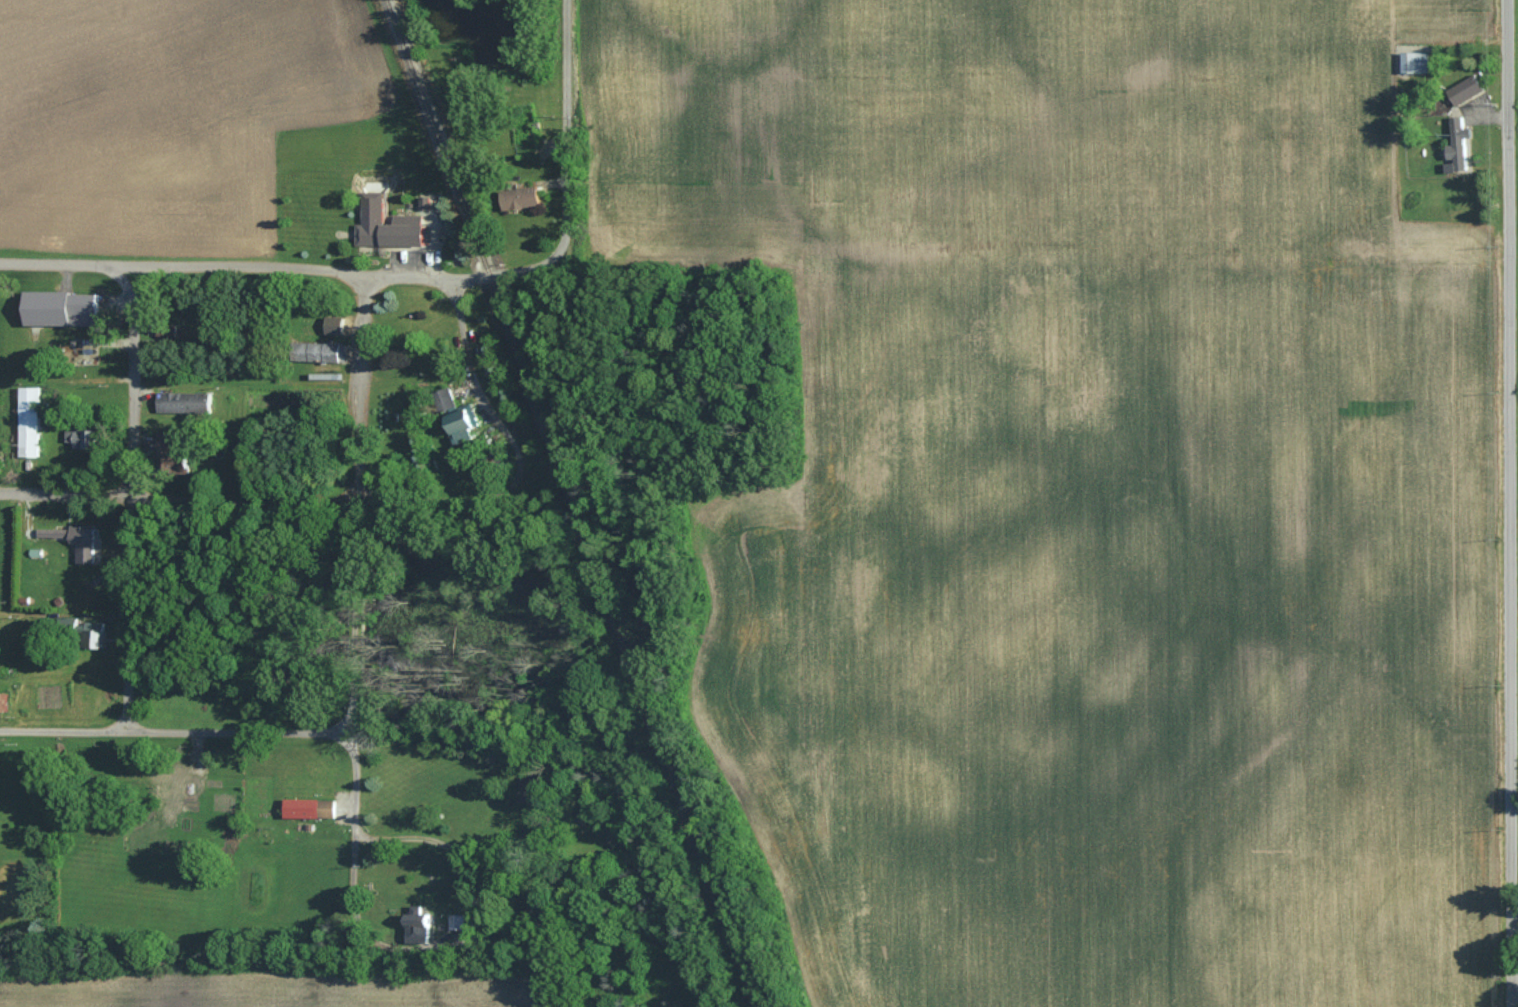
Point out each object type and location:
building: (1418, 62)
building: (1472, 89)
road: (566, 98)
building: (1461, 153)
building: (524, 198)
building: (395, 235)
road: (553, 257)
road: (245, 267)
building: (87, 304)
building: (170, 331)
building: (322, 351)
building: (91, 361)
building: (449, 400)
building: (188, 401)
road: (486, 405)
building: (34, 421)
building: (470, 423)
building: (90, 439)
building: (187, 461)
road: (130, 497)
road: (239, 501)
road: (1507, 503)
railway: (577, 504)
building: (77, 542)
road: (64, 614)
building: (99, 635)
road: (350, 662)
road: (173, 730)
building: (183, 780)
building: (314, 809)
road: (448, 856)
building: (424, 920)

